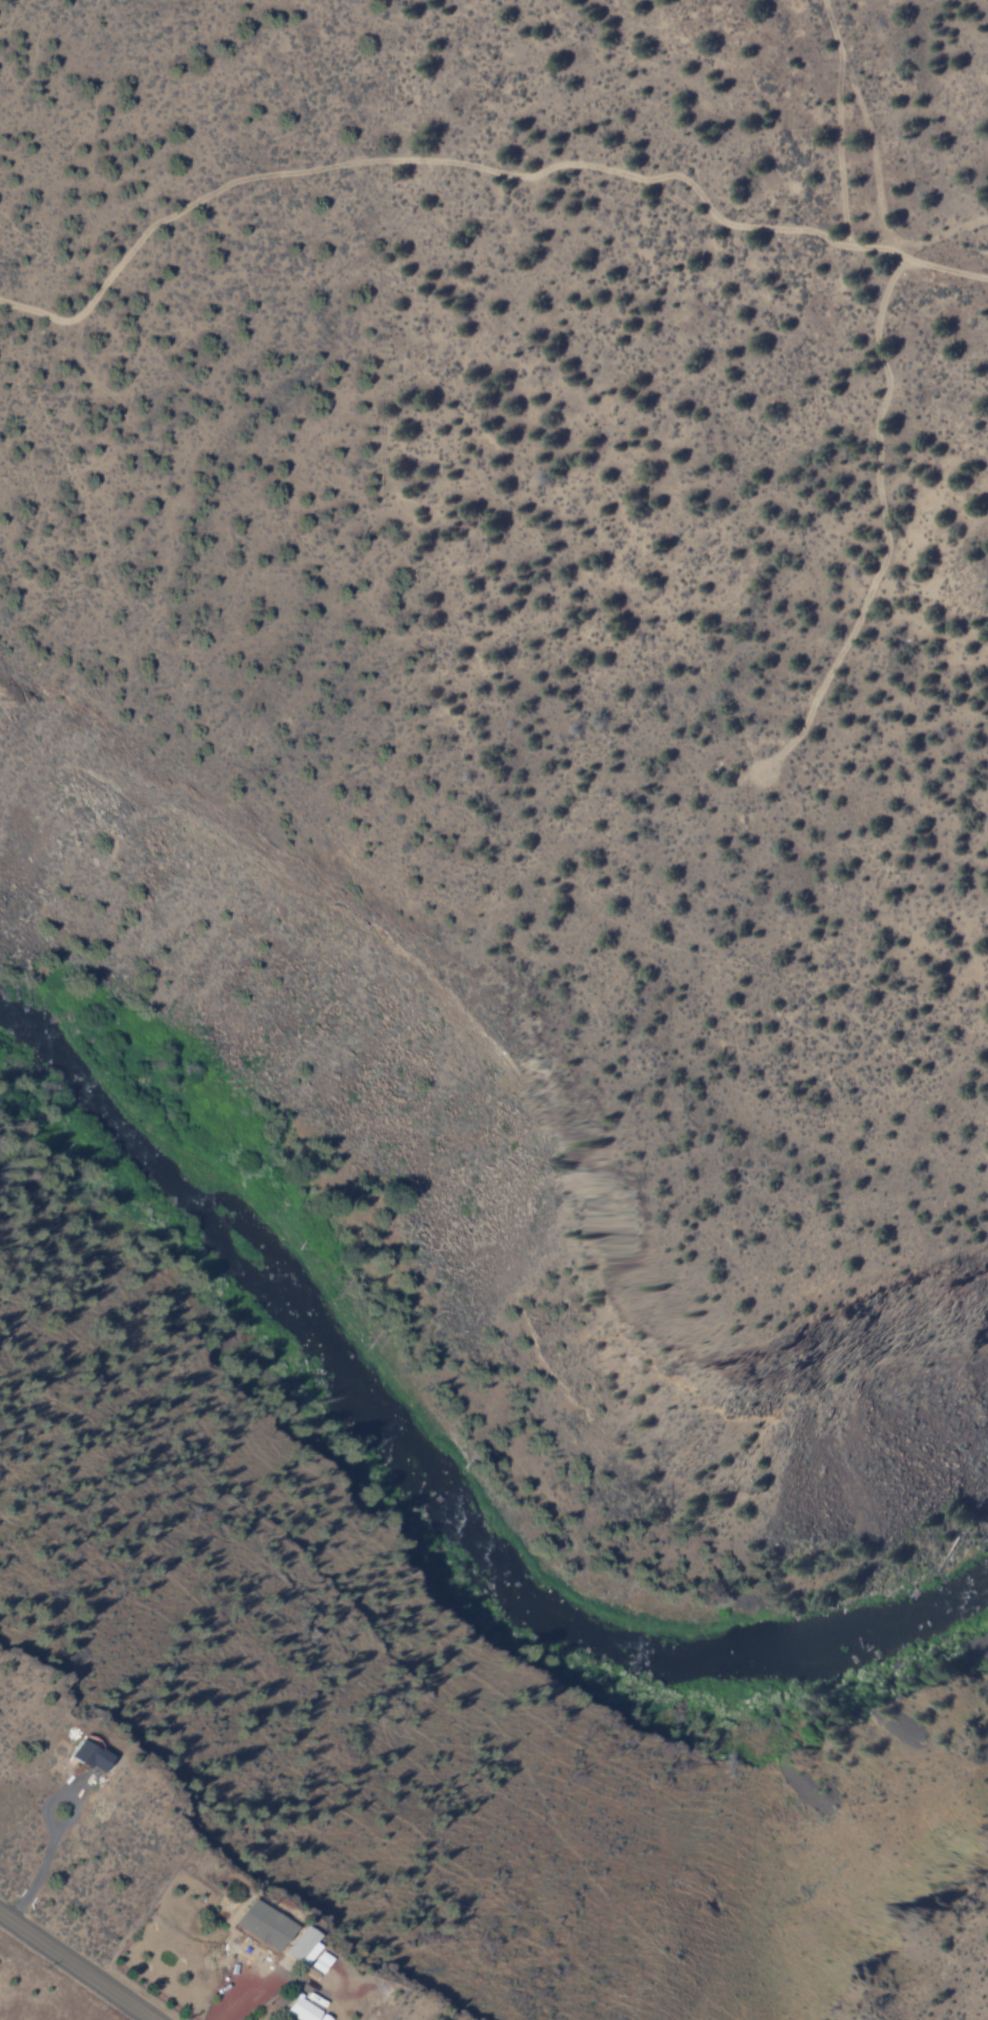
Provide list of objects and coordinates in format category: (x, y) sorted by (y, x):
road: (477, 166)
river: (429, 1485)
building: (93, 1757)
building: (265, 1926)
building: (301, 1943)
building: (311, 1954)
road: (74, 1968)
building: (307, 2012)

